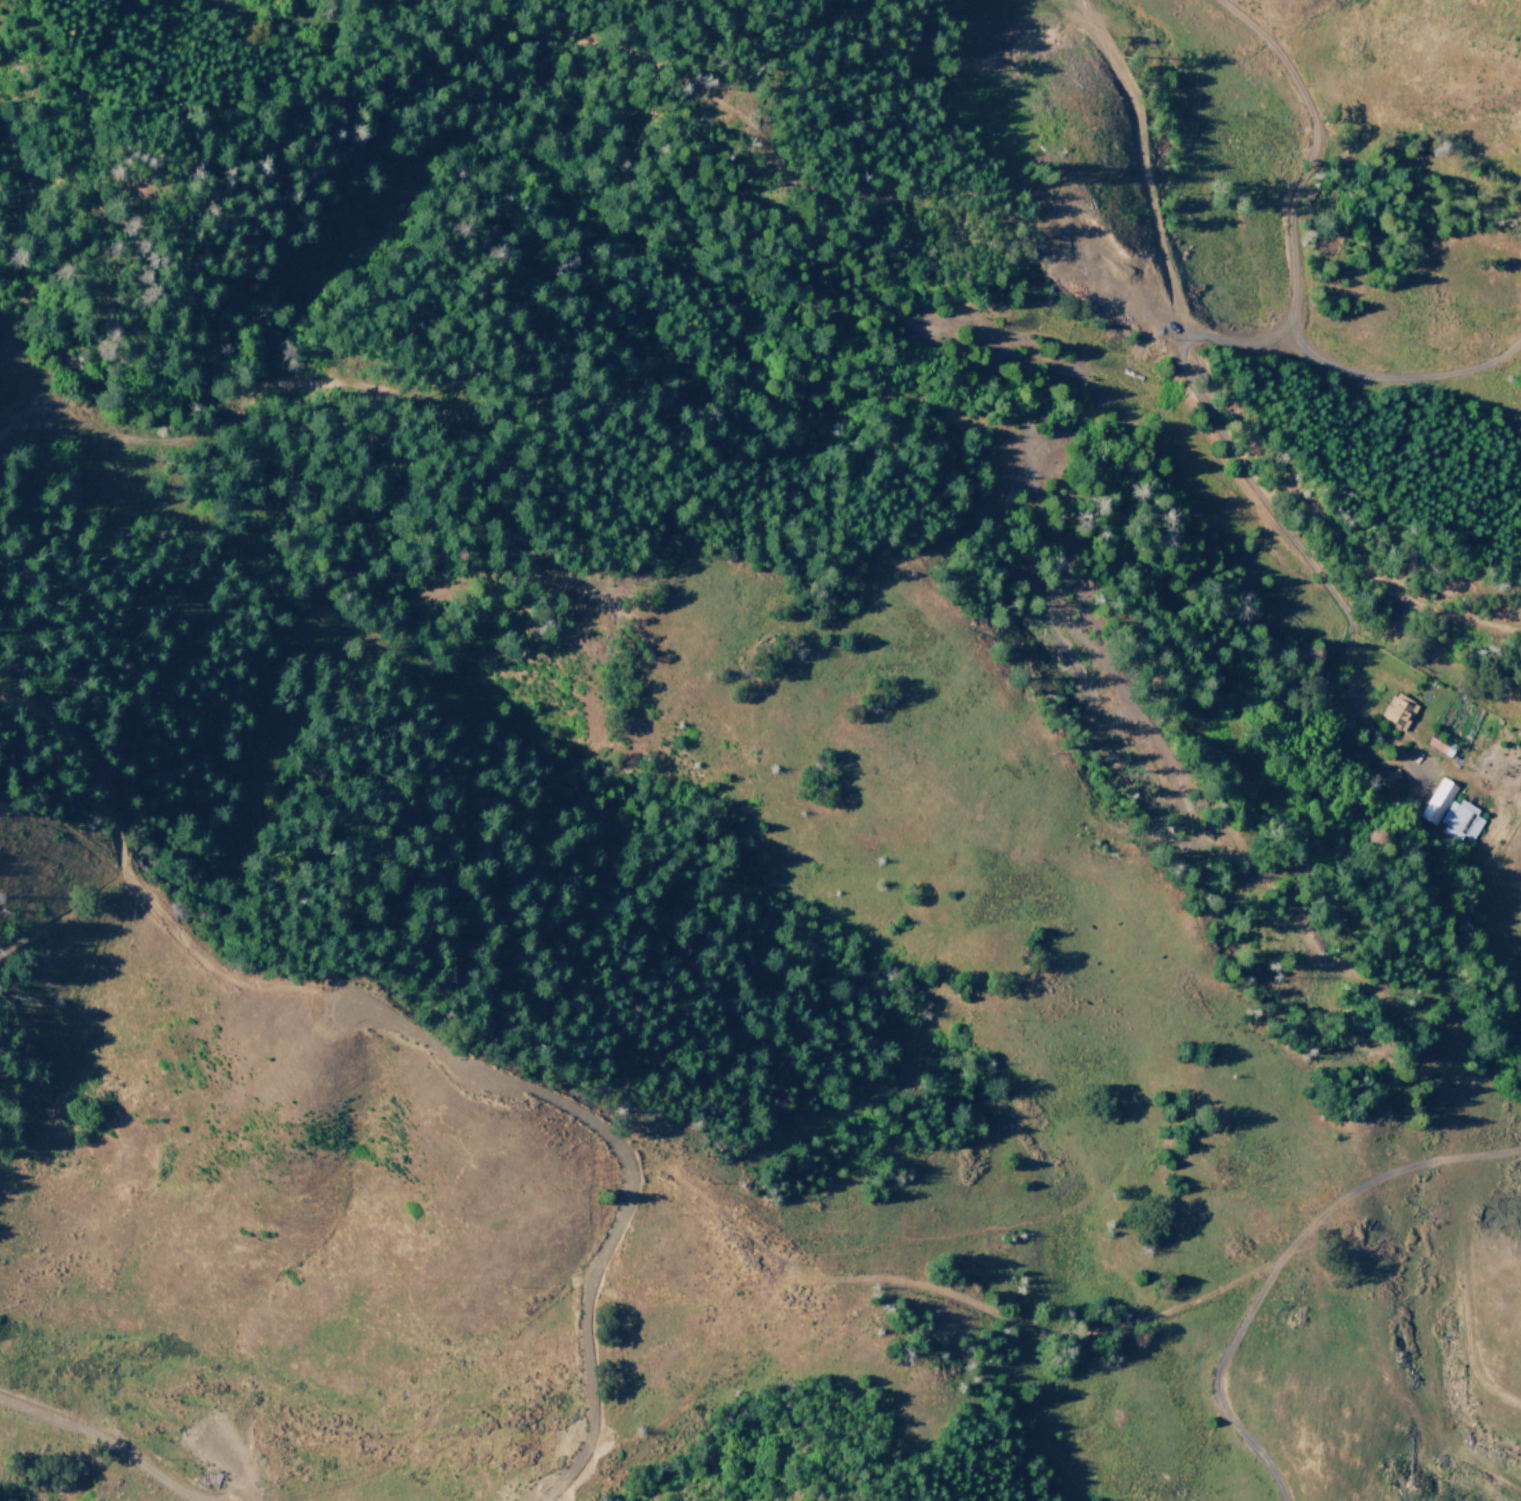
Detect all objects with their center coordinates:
road: (1290, 341)
building: (1394, 710)
building: (1437, 743)
building: (1434, 801)
building: (1460, 821)
road: (114, 1449)

